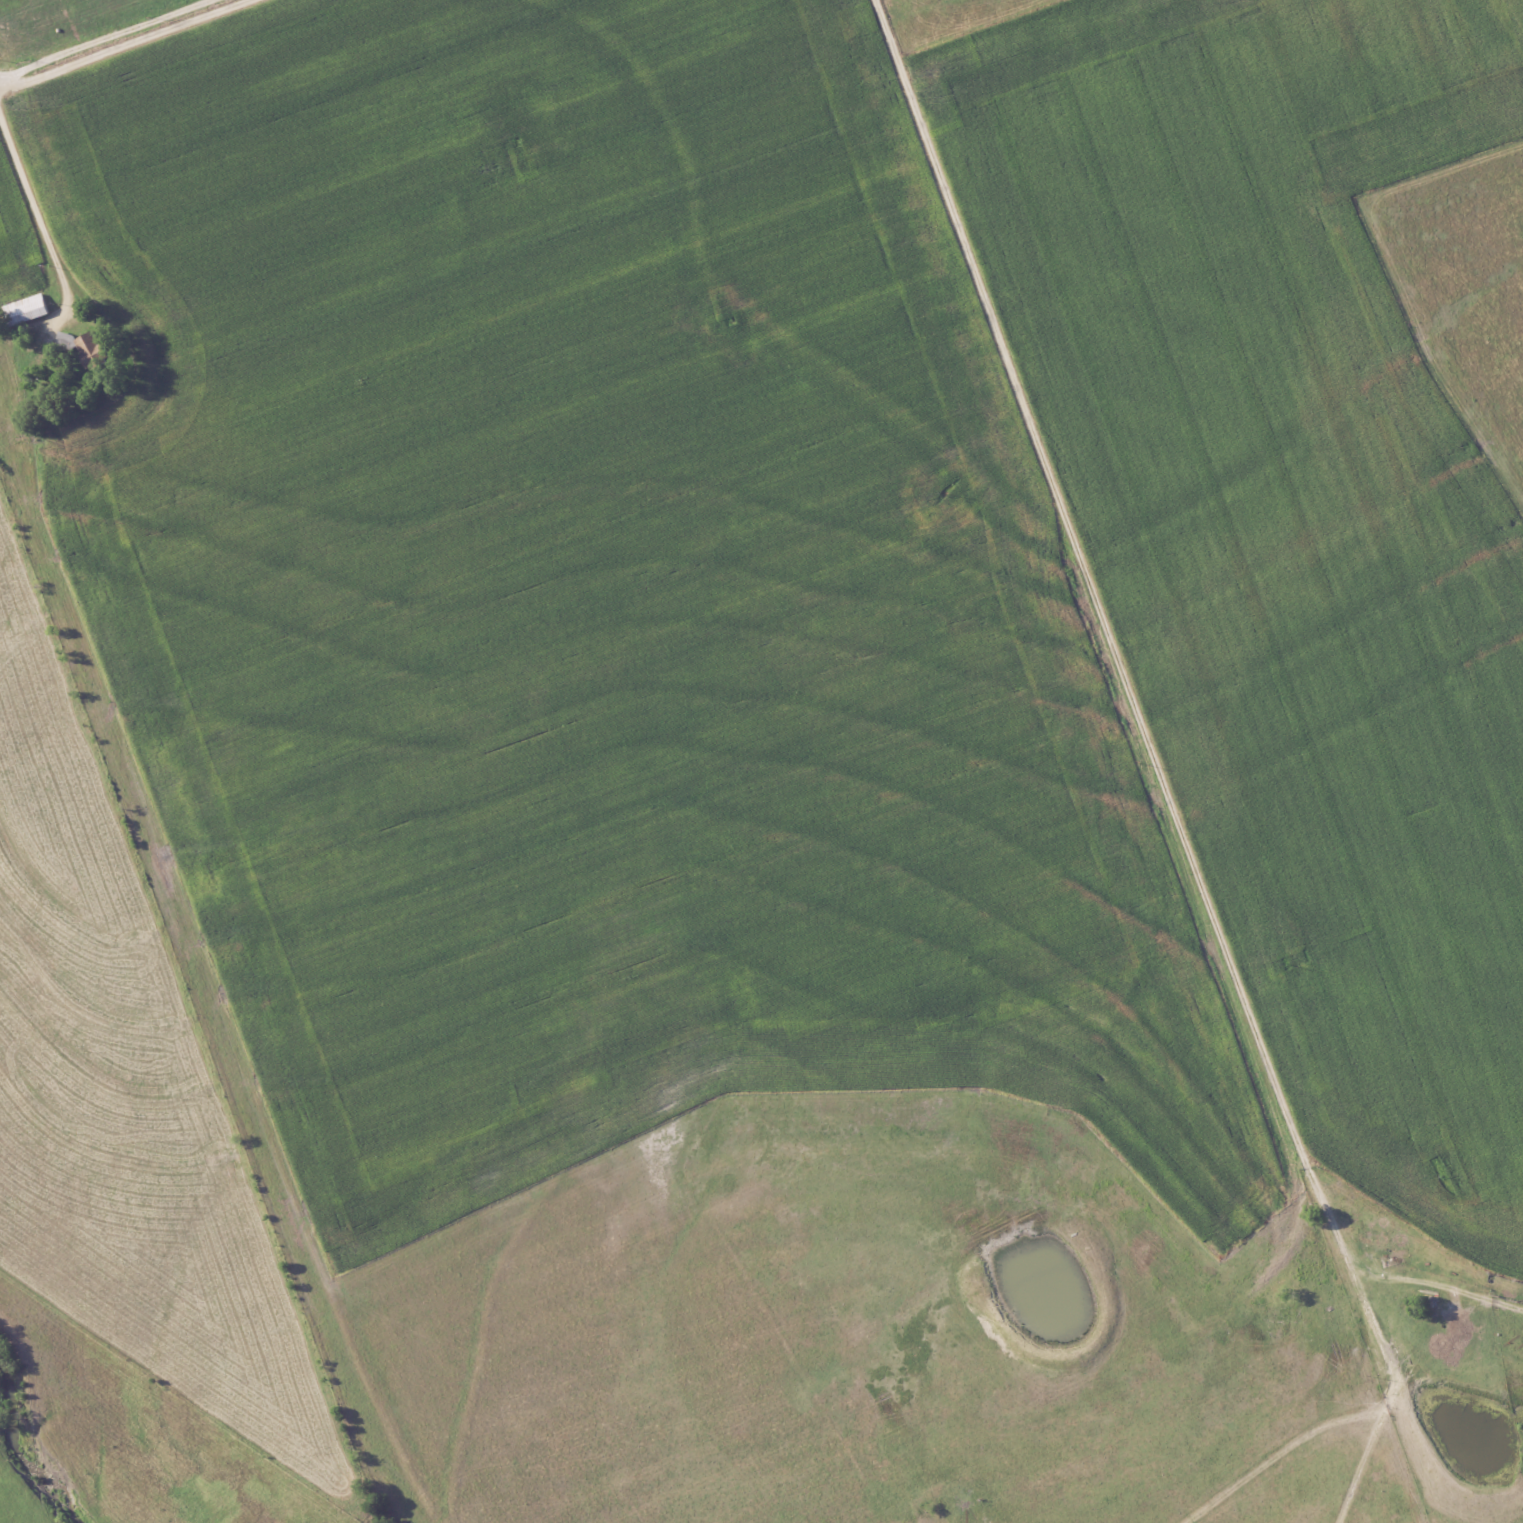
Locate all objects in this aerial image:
road: (130, 47)
road: (32, 214)
building: (94, 350)
road: (1130, 683)

